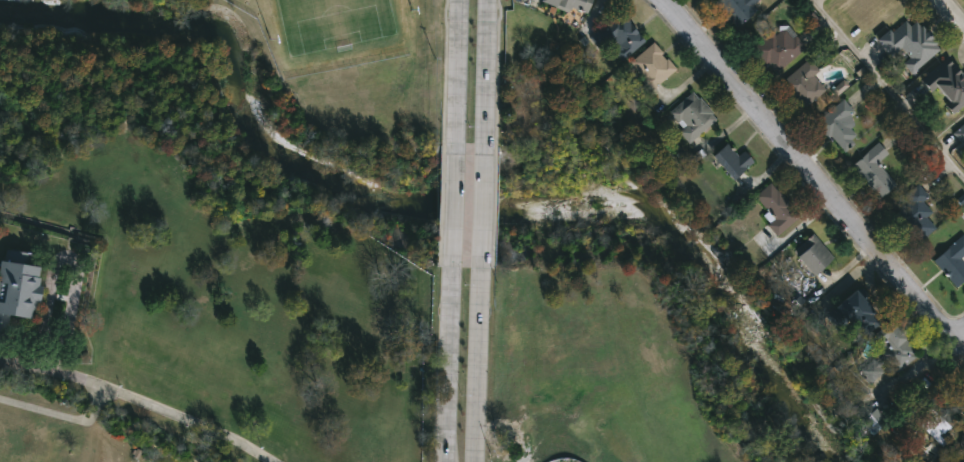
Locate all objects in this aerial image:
building: (571, 4)
building: (734, 9)
road: (951, 14)
park: (333, 23)
building: (617, 35)
building: (909, 42)
building: (777, 47)
building: (650, 65)
road: (458, 71)
road: (486, 72)
park: (339, 73)
road: (894, 81)
building: (947, 82)
building: (802, 83)
building: (840, 87)
building: (691, 115)
building: (837, 124)
building: (960, 132)
building: (732, 159)
road: (810, 170)
building: (873, 170)
building: (777, 208)
building: (963, 210)
road: (452, 211)
road: (482, 211)
building: (914, 213)
building: (812, 253)
building: (951, 260)
building: (17, 288)
building: (859, 312)
road: (958, 339)
building: (890, 350)
road: (446, 370)
road: (476, 370)
road: (140, 399)
road: (60, 413)
building: (871, 421)
building: (933, 425)
building: (961, 441)

